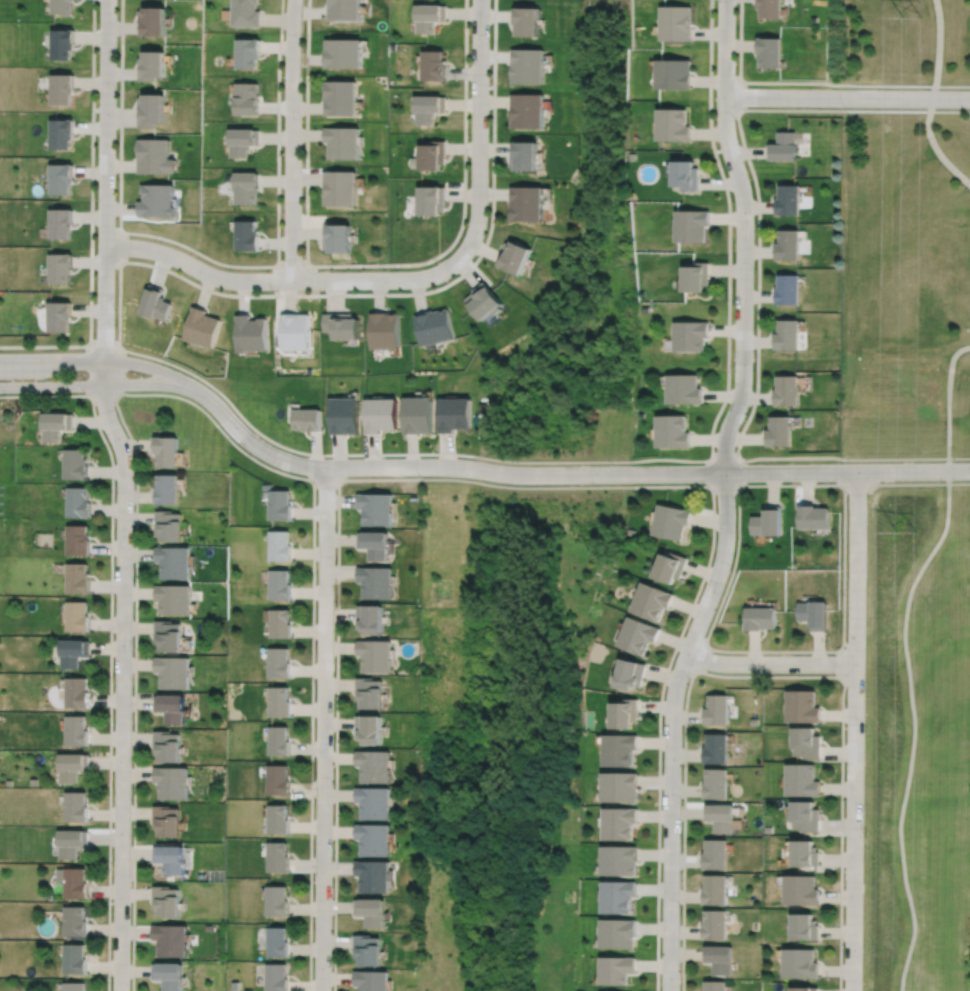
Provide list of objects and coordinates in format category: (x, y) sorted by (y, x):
building: (61, 6)
building: (345, 9)
building: (770, 9)
building: (243, 13)
power tower: (912, 15)
building: (429, 16)
building: (526, 20)
building: (153, 21)
building: (675, 24)
street lamp: (490, 42)
building: (61, 43)
park: (906, 44)
road: (938, 49)
building: (248, 52)
building: (769, 52)
building: (344, 53)
building: (434, 65)
building: (528, 65)
building: (152, 66)
building: (673, 73)
road: (814, 83)
building: (61, 88)
street lamp: (116, 88)
road: (740, 96)
building: (246, 98)
road: (847, 98)
building: (340, 99)
building: (429, 108)
street lamp: (844, 108)
building: (527, 109)
building: (151, 110)
road: (933, 111)
street lamp: (301, 117)
street lamp: (735, 119)
building: (673, 124)
road: (479, 131)
building: (61, 133)
street lamp: (469, 136)
road: (292, 139)
building: (243, 140)
building: (343, 143)
building: (784, 146)
road: (935, 147)
building: (432, 155)
building: (156, 156)
building: (524, 156)
building: (631, 156)
building: (686, 174)
building: (60, 178)
building: (245, 187)
building: (340, 188)
street lamp: (96, 199)
building: (789, 199)
building: (157, 200)
building: (431, 200)
building: (525, 203)
street lamp: (734, 203)
street lamp: (283, 210)
building: (60, 222)
building: (692, 225)
road: (729, 230)
building: (246, 236)
road: (744, 236)
building: (338, 238)
street lamp: (160, 242)
building: (788, 245)
road: (120, 246)
building: (515, 254)
street lamp: (472, 259)
road: (213, 260)
road: (291, 265)
road: (373, 265)
building: (60, 268)
street lamp: (384, 269)
street lamp: (755, 269)
building: (697, 276)
road: (282, 280)
park: (905, 285)
building: (787, 289)
street lamp: (272, 290)
road: (391, 295)
building: (485, 300)
building: (155, 303)
street lamp: (115, 308)
building: (60, 316)
building: (343, 325)
building: (436, 327)
building: (201, 328)
building: (386, 331)
building: (296, 332)
building: (251, 334)
building: (786, 334)
building: (691, 336)
street lamp: (3, 351)
street lamp: (83, 351)
road: (93, 361)
road: (121, 370)
street lamp: (733, 371)
road: (91, 385)
building: (684, 390)
building: (785, 391)
street lamp: (84, 392)
street lamp: (3, 393)
road: (52, 395)
road: (949, 404)
building: (454, 414)
building: (382, 415)
building: (418, 415)
building: (642, 415)
building: (345, 416)
building: (309, 420)
building: (55, 426)
road: (217, 426)
building: (778, 430)
building: (673, 432)
street lamp: (231, 437)
street lamp: (108, 442)
building: (167, 452)
road: (738, 452)
road: (457, 454)
street lamp: (328, 457)
road: (959, 457)
street lamp: (748, 463)
street lamp: (838, 463)
street lamp: (506, 464)
street lamp: (613, 464)
building: (74, 465)
road: (440, 467)
road: (847, 472)
street lamp: (420, 476)
road: (647, 486)
building: (168, 490)
road: (111, 493)
road: (124, 493)
street lamp: (847, 494)
building: (78, 503)
building: (279, 506)
building: (375, 510)
building: (815, 519)
building: (672, 522)
building: (769, 523)
building: (170, 527)
power tower: (913, 531)
building: (77, 541)
street lamp: (133, 543)
building: (280, 546)
building: (373, 546)
building: (174, 561)
street lamp: (335, 563)
building: (671, 567)
street lamp: (730, 568)
building: (77, 579)
building: (377, 582)
building: (280, 583)
street lamp: (847, 596)
building: (174, 597)
building: (652, 599)
building: (815, 612)
building: (77, 615)
building: (372, 616)
building: (761, 616)
building: (280, 621)
building: (639, 633)
building: (169, 634)
street lamp: (113, 635)
building: (72, 650)
building: (376, 653)
street lamp: (779, 653)
road: (699, 657)
building: (279, 661)
road: (770, 663)
road: (843, 664)
building: (173, 670)
building: (632, 672)
road: (764, 676)
street lamp: (689, 678)
street lamp: (314, 682)
road: (135, 690)
building: (370, 691)
building: (77, 692)
building: (279, 701)
building: (802, 705)
building: (171, 707)
building: (716, 708)
building: (627, 712)
road: (659, 720)
building: (754, 721)
street lamp: (865, 726)
building: (369, 727)
road: (672, 727)
road: (914, 727)
road: (323, 729)
building: (77, 730)
road: (855, 731)
road: (311, 735)
road: (336, 735)
park: (916, 737)
building: (278, 740)
building: (806, 742)
building: (167, 745)
building: (621, 748)
building: (715, 748)
street lamp: (132, 764)
building: (375, 764)
building: (71, 766)
building: (278, 779)
building: (801, 779)
building: (172, 782)
building: (715, 783)
street lamp: (332, 784)
building: (622, 786)
building: (374, 801)
street lamp: (680, 801)
building: (76, 806)
building: (805, 816)
building: (719, 817)
building: (278, 819)
building: (167, 821)
building: (621, 822)
street lamp: (864, 835)
building: (374, 838)
building: (71, 843)
building: (805, 854)
building: (715, 855)
building: (277, 857)
building: (169, 859)
building: (621, 859)
street lamp: (110, 863)
building: (374, 875)
building: (73, 882)
building: (714, 890)
building: (801, 890)
building: (620, 896)
building: (166, 901)
building: (276, 901)
street lamp: (680, 907)
building: (372, 910)
building: (73, 921)
street lamp: (312, 923)
building: (713, 925)
building: (804, 927)
building: (620, 933)
building: (170, 940)
building: (277, 942)
street lamp: (843, 944)
building: (368, 950)
building: (720, 956)
building: (73, 960)
building: (802, 961)
building: (619, 969)
building: (169, 976)
building: (276, 977)
street lamp: (110, 978)
building: (372, 980)
building: (716, 985)
building: (72, 987)
building: (807, 987)

